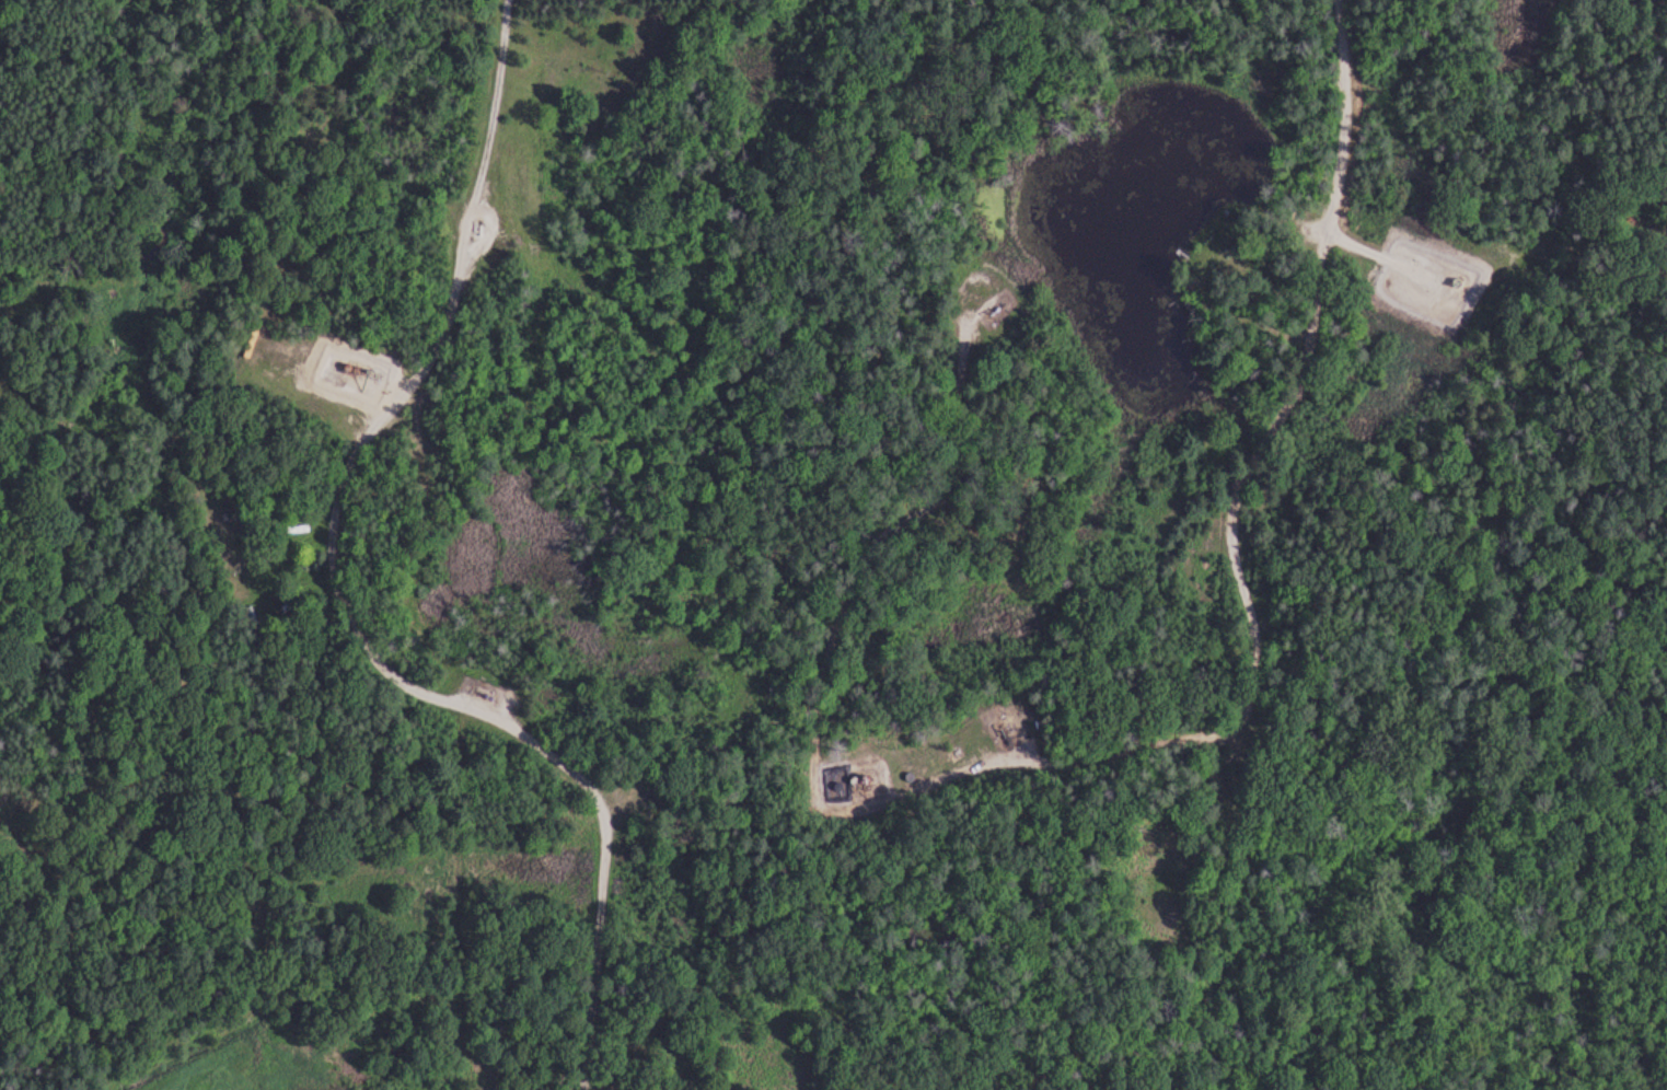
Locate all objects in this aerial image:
petroleum well: (481, 231)
petroleum well: (994, 304)
road: (1241, 541)
road: (869, 560)
petroleum well: (490, 694)
road: (516, 724)
road: (605, 798)

